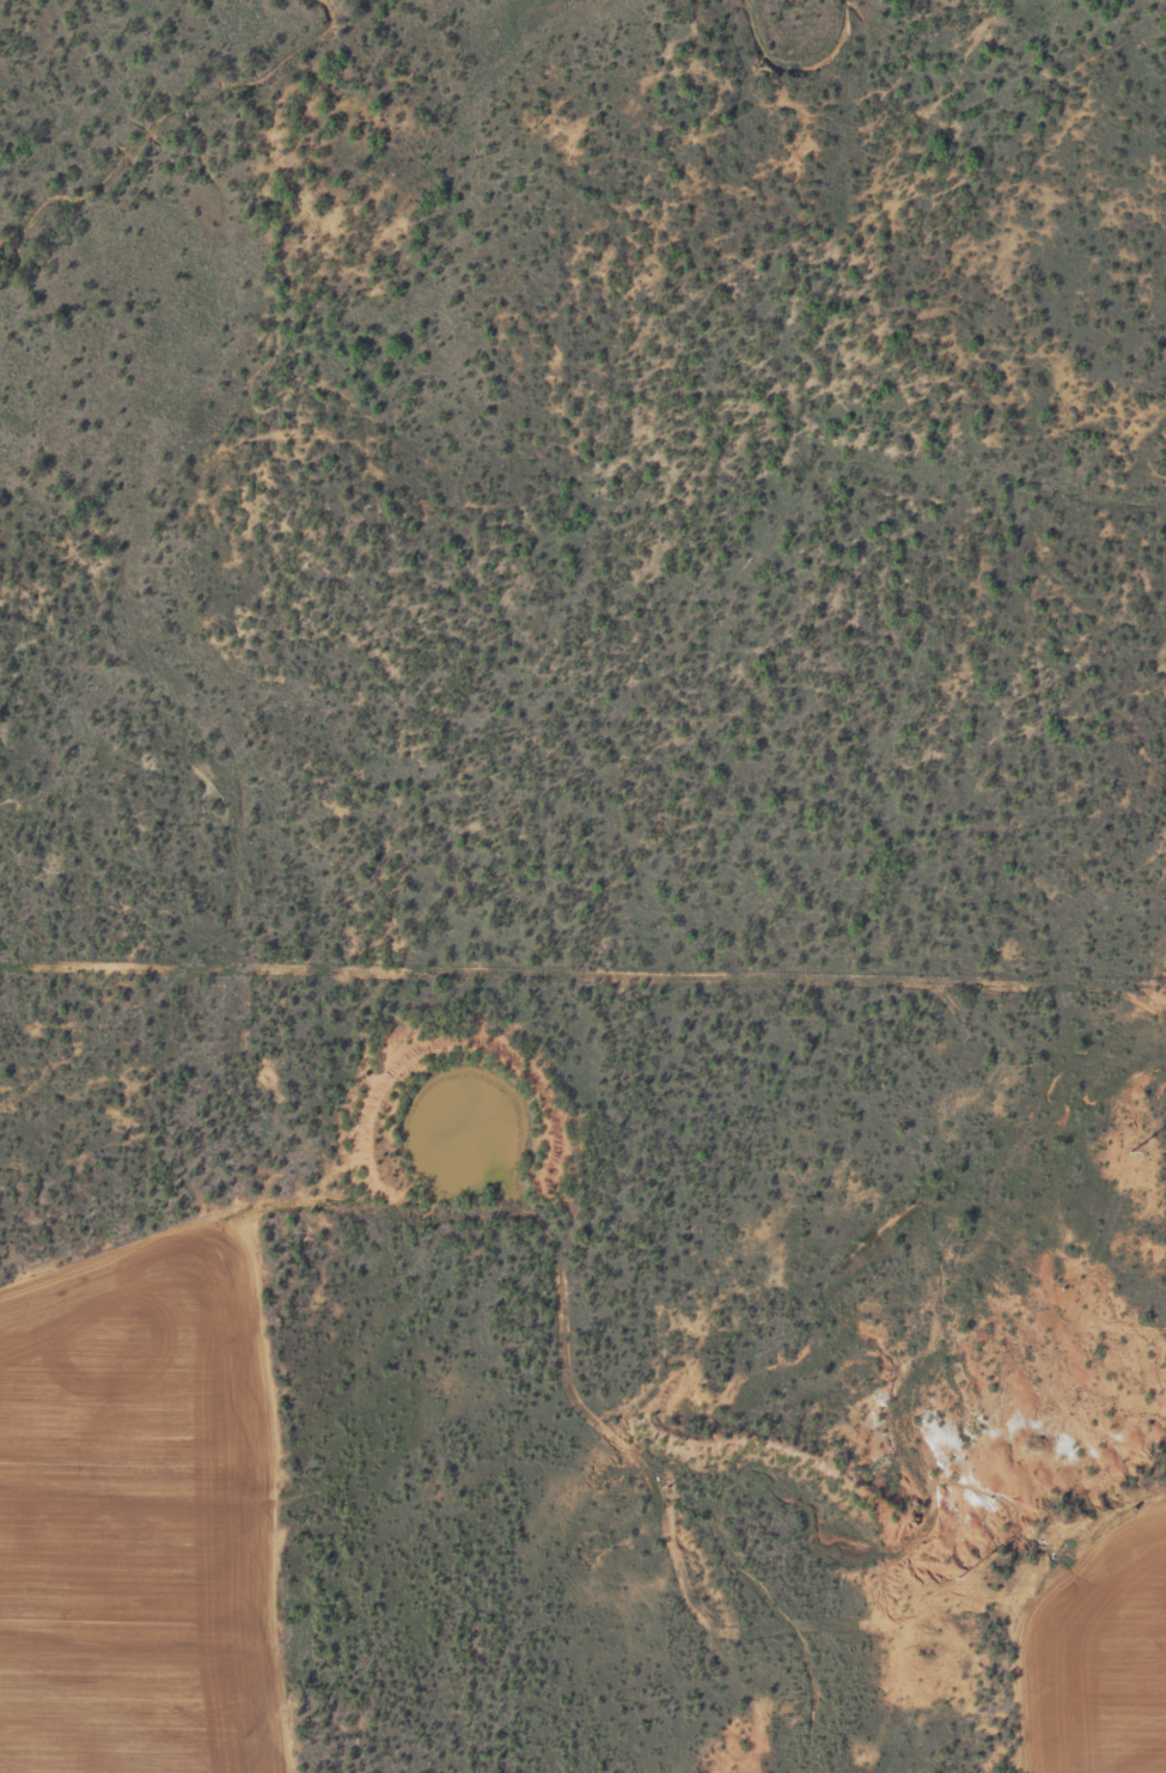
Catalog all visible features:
power tower: (1128, 1162)
power tower: (959, 1573)

